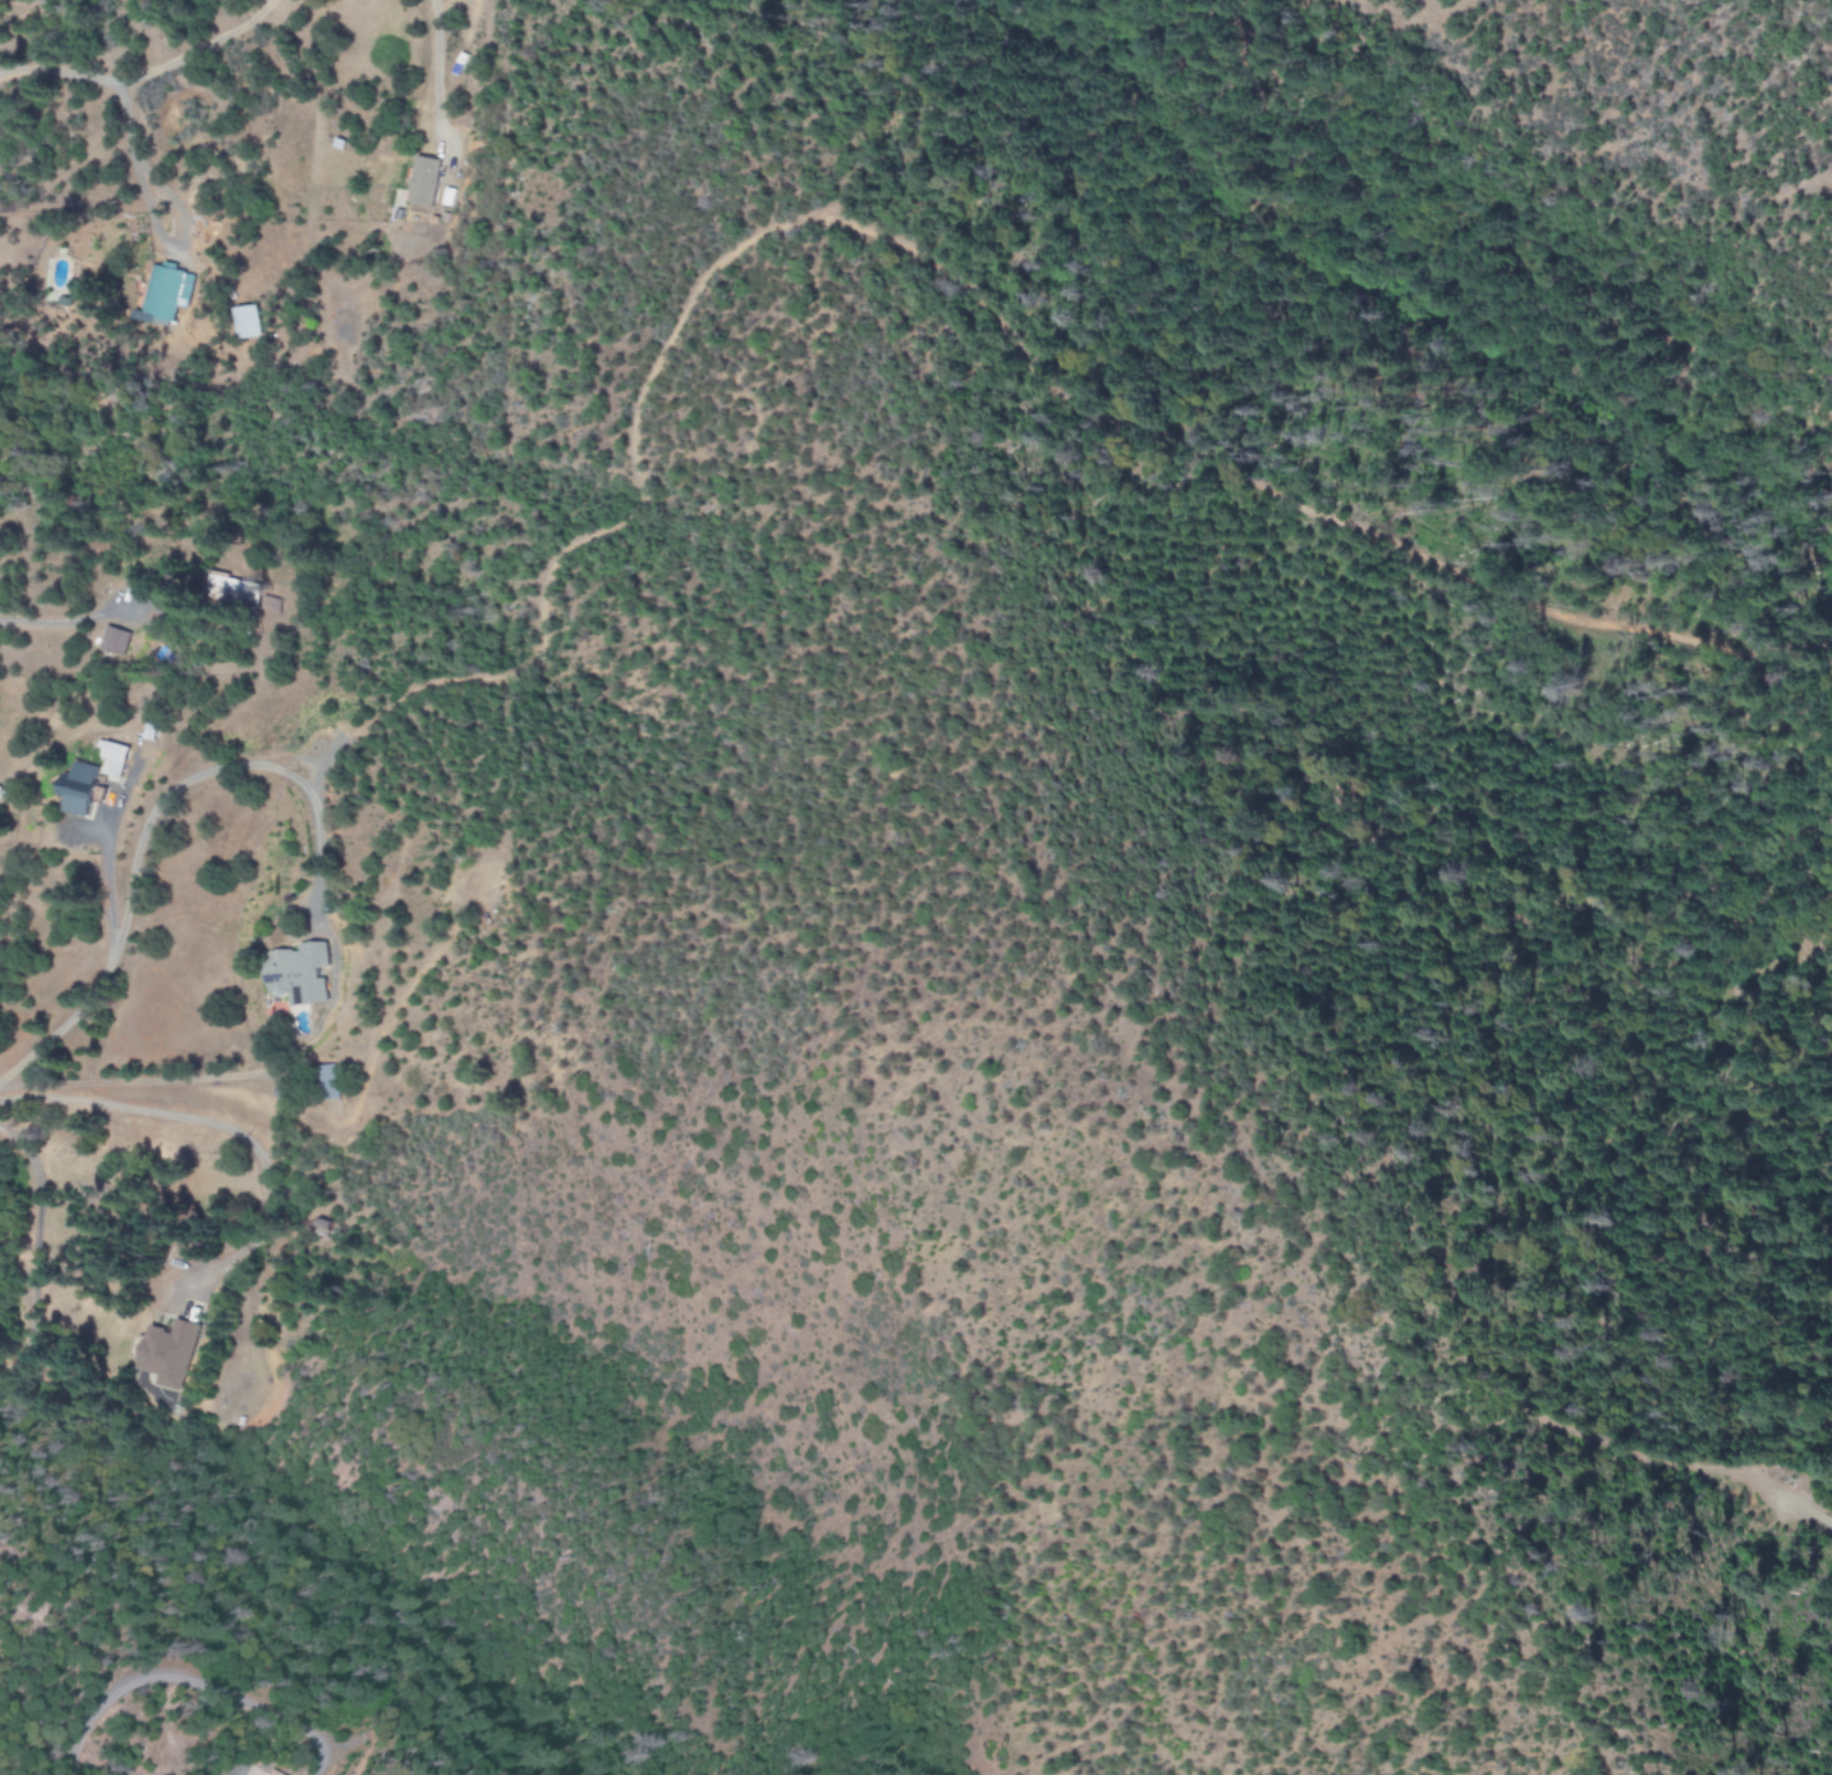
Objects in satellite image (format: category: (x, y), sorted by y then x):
road: (1259, 30)
road: (393, 44)
road: (164, 78)
road: (1546, 87)
road: (395, 94)
building: (426, 182)
road: (327, 203)
road: (1563, 255)
building: (166, 296)
building: (249, 322)
building: (232, 588)
building: (114, 641)
building: (114, 760)
building: (82, 789)
building: (300, 974)
building: (328, 1082)
building: (168, 1353)
building: (268, 1773)

